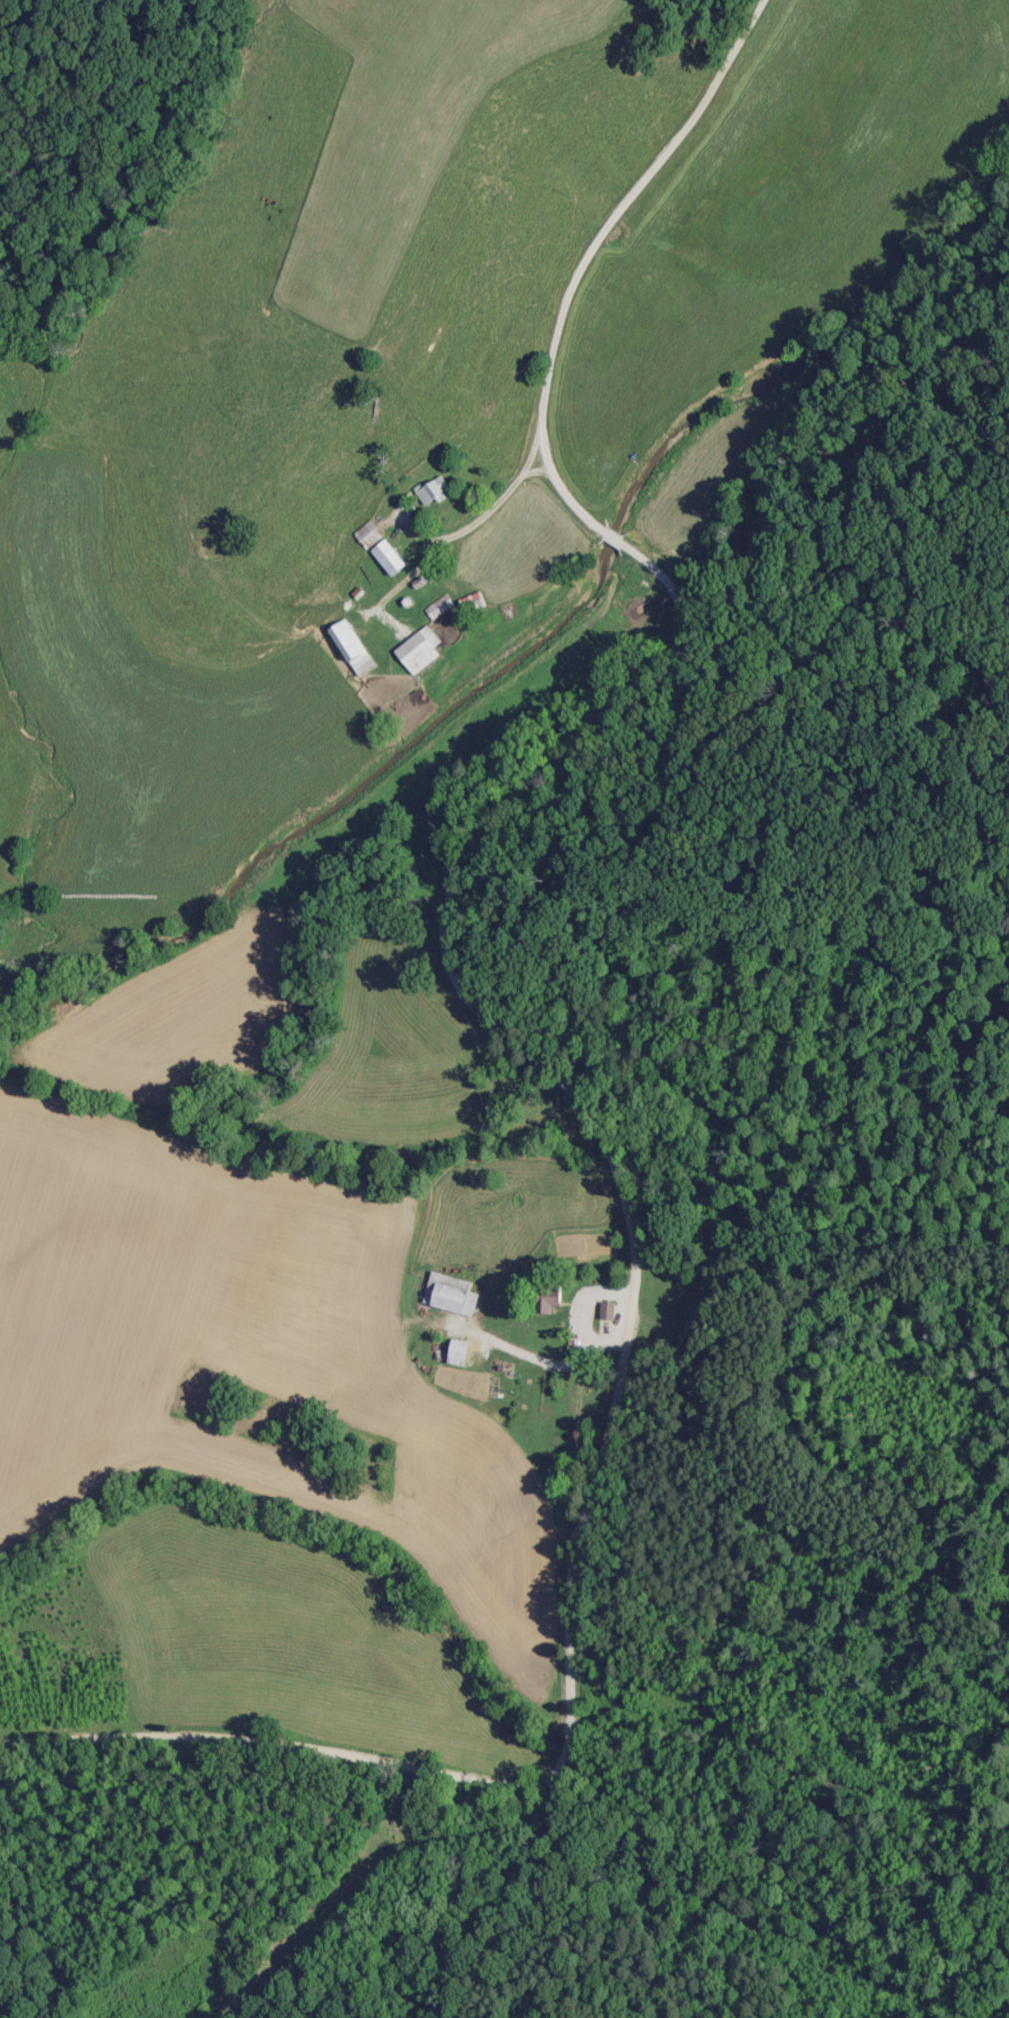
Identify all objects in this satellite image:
road: (576, 273)
road: (539, 476)
building: (435, 489)
road: (469, 530)
building: (368, 533)
building: (388, 557)
building: (438, 606)
building: (352, 647)
building: (418, 650)
road: (487, 837)
road: (630, 1232)
building: (449, 1293)
building: (549, 1300)
building: (607, 1310)
building: (458, 1351)
road: (498, 1782)

